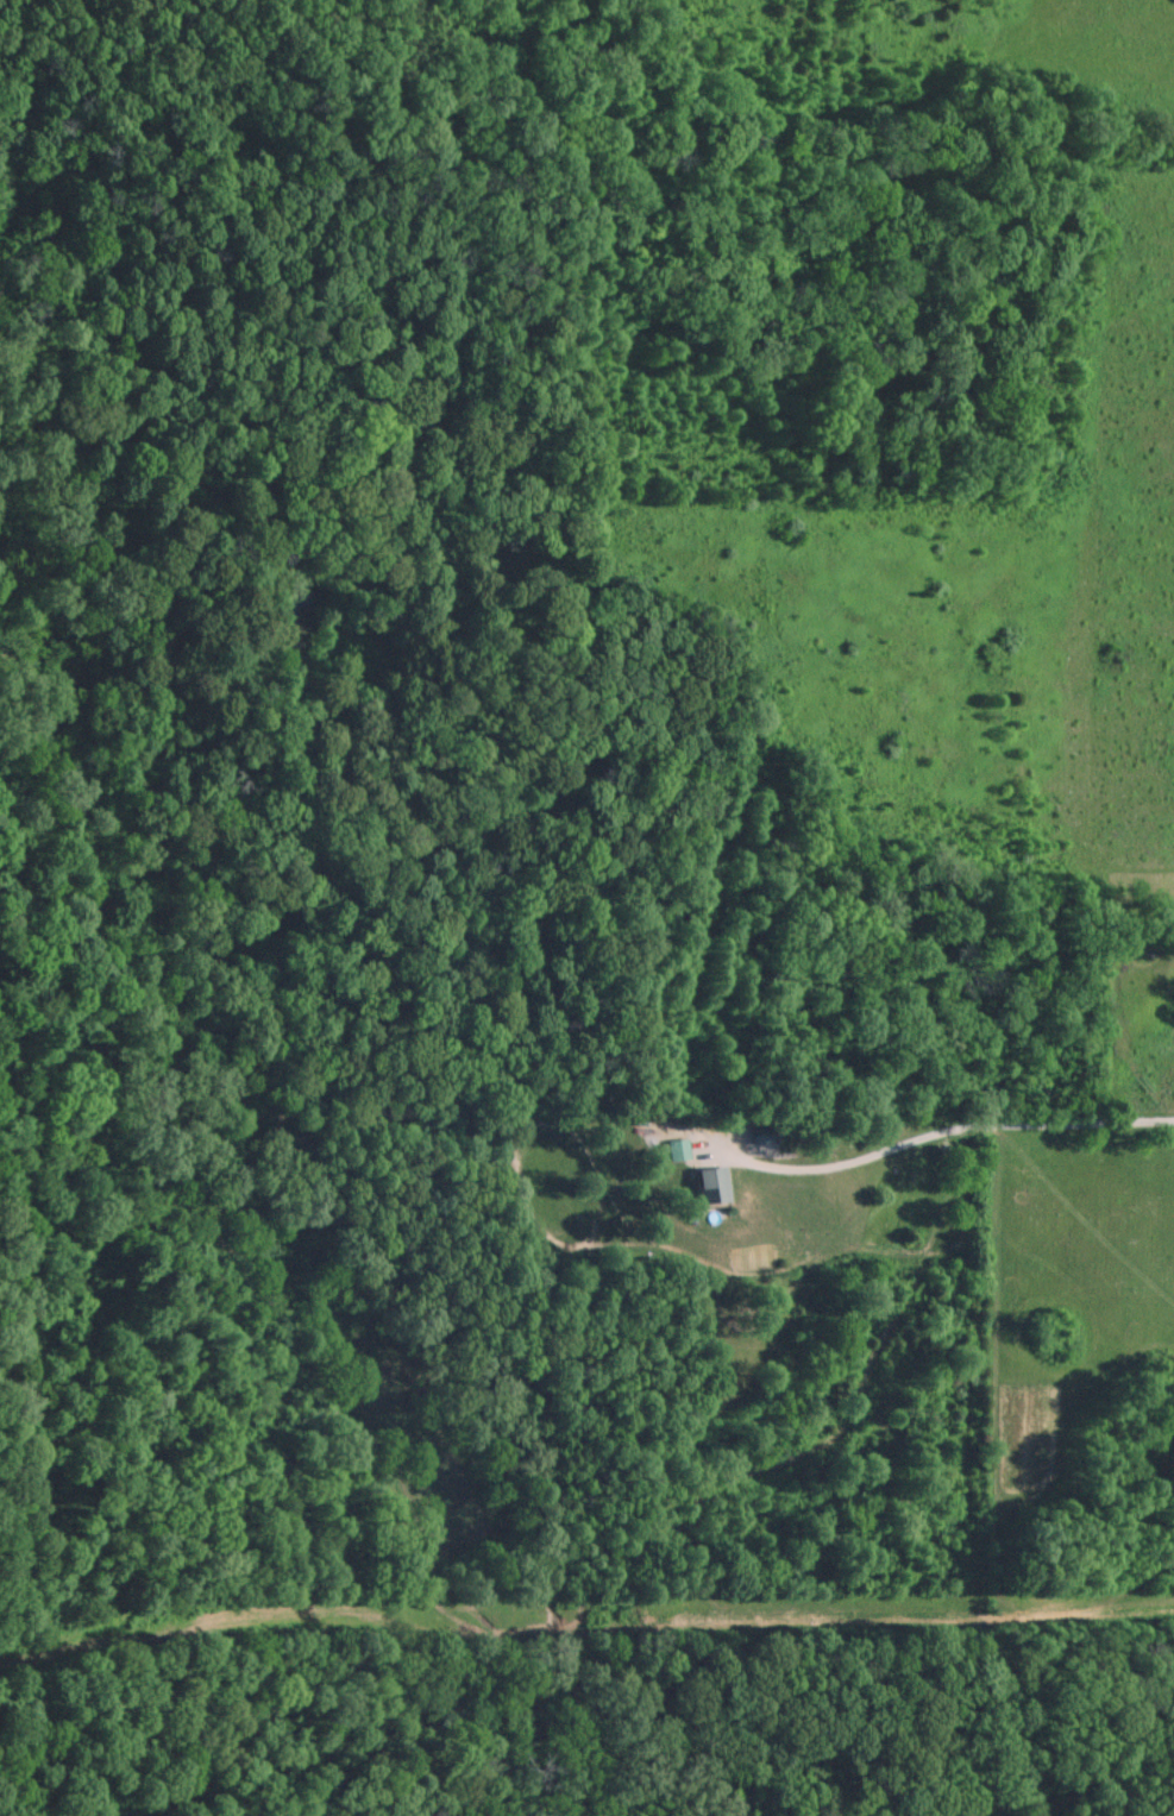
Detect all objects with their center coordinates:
road: (943, 1131)
building: (762, 1135)
building: (679, 1148)
building: (717, 1183)

